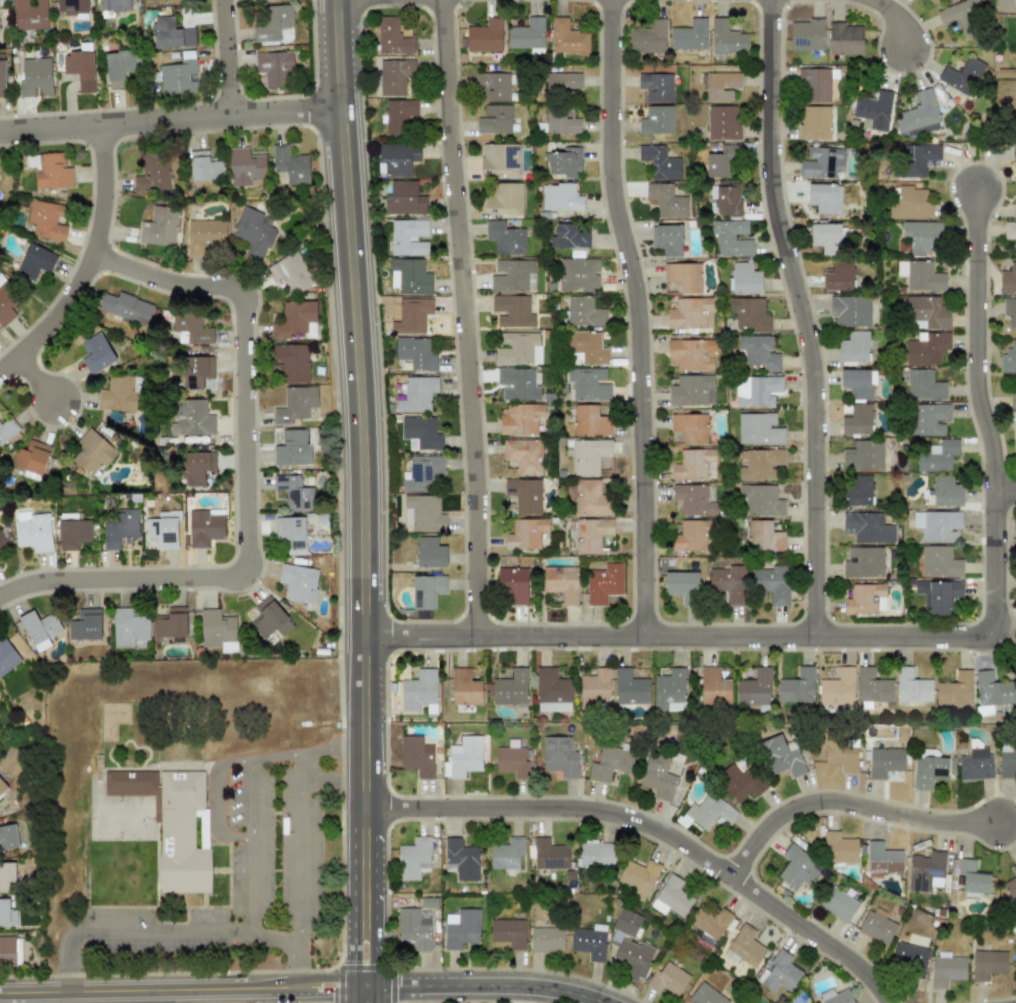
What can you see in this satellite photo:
building: (932, 1)
building: (72, 6)
building: (112, 6)
building: (961, 14)
building: (29, 15)
road: (903, 18)
building: (272, 23)
building: (170, 33)
building: (527, 34)
building: (689, 35)
building: (807, 35)
building: (484, 36)
building: (392, 37)
building: (567, 38)
building: (648, 38)
building: (727, 38)
building: (844, 39)
road: (227, 58)
building: (119, 67)
building: (274, 68)
building: (80, 69)
building: (962, 75)
building: (35, 76)
building: (394, 76)
building: (179, 77)
building: (3, 80)
building: (563, 81)
building: (816, 84)
building: (721, 85)
building: (493, 86)
building: (656, 86)
building: (874, 110)
building: (919, 115)
building: (398, 116)
building: (495, 120)
building: (656, 120)
building: (561, 121)
road: (170, 122)
building: (722, 122)
building: (815, 122)
building: (1013, 154)
building: (397, 158)
building: (500, 158)
building: (920, 159)
building: (721, 161)
building: (563, 162)
building: (659, 162)
building: (822, 162)
building: (290, 165)
building: (205, 167)
building: (245, 167)
building: (53, 172)
building: (152, 173)
building: (560, 197)
building: (403, 198)
building: (824, 198)
building: (504, 199)
building: (728, 199)
building: (666, 200)
building: (911, 203)
building: (1014, 208)
building: (47, 220)
building: (158, 230)
building: (253, 233)
building: (1010, 233)
building: (206, 234)
building: (923, 235)
building: (567, 236)
building: (409, 237)
building: (826, 237)
building: (505, 238)
building: (730, 238)
building: (667, 239)
building: (34, 262)
road: (86, 264)
building: (290, 272)
building: (578, 275)
building: (920, 275)
building: (410, 276)
building: (512, 276)
building: (683, 276)
building: (838, 276)
building: (745, 278)
building: (1008, 279)
building: (6, 303)
building: (126, 307)
building: (850, 310)
building: (512, 311)
building: (927, 311)
building: (584, 312)
building: (1010, 312)
building: (690, 313)
building: (411, 315)
building: (750, 315)
road: (464, 318)
road: (646, 318)
road: (803, 318)
building: (296, 320)
building: (191, 329)
road: (977, 340)
building: (588, 347)
building: (853, 347)
building: (518, 348)
building: (927, 348)
building: (757, 352)
building: (97, 353)
building: (416, 353)
building: (691, 354)
building: (1009, 358)
building: (292, 362)
building: (197, 370)
road: (37, 379)
building: (858, 383)
building: (519, 384)
building: (588, 384)
building: (925, 385)
building: (692, 390)
building: (757, 390)
building: (120, 394)
building: (417, 394)
building: (1013, 400)
road: (359, 404)
building: (192, 418)
building: (856, 418)
building: (930, 418)
building: (521, 419)
building: (590, 420)
building: (688, 427)
building: (7, 429)
building: (759, 429)
building: (420, 433)
building: (294, 448)
building: (93, 452)
building: (524, 455)
building: (588, 455)
building: (863, 456)
building: (937, 456)
building: (31, 459)
building: (692, 464)
building: (760, 464)
building: (196, 467)
building: (422, 473)
road: (244, 478)
building: (857, 490)
road: (1006, 490)
building: (946, 491)
building: (294, 492)
building: (590, 497)
building: (693, 500)
building: (760, 500)
building: (423, 513)
building: (937, 525)
building: (205, 527)
building: (867, 527)
building: (120, 528)
building: (163, 530)
building: (35, 532)
building: (74, 533)
building: (291, 533)
building: (525, 533)
building: (590, 534)
building: (691, 535)
building: (763, 536)
building: (2, 540)
building: (430, 552)
building: (863, 562)
building: (939, 562)
building: (298, 582)
building: (562, 583)
building: (603, 583)
building: (772, 583)
building: (513, 584)
building: (727, 584)
building: (682, 586)
building: (426, 590)
building: (937, 595)
building: (865, 599)
building: (270, 619)
building: (171, 623)
building: (86, 625)
building: (129, 627)
building: (40, 629)
building: (216, 629)
road: (752, 638)
building: (7, 657)
building: (714, 686)
building: (796, 686)
building: (873, 686)
building: (912, 686)
building: (465, 688)
building: (510, 688)
building: (754, 688)
building: (838, 688)
building: (992, 689)
building: (595, 690)
building: (669, 690)
building: (955, 690)
building: (420, 691)
building: (552, 691)
building: (630, 691)
building: (841, 754)
building: (416, 755)
road: (295, 756)
building: (559, 756)
building: (463, 757)
building: (781, 757)
building: (513, 760)
building: (611, 761)
building: (885, 761)
building: (1007, 762)
building: (975, 764)
building: (928, 771)
building: (658, 777)
road: (331, 779)
building: (131, 783)
building: (741, 783)
building: (2, 787)
road: (220, 798)
road: (856, 809)
building: (710, 812)
road: (656, 828)
building: (182, 833)
building: (8, 837)
road: (238, 837)
road: (257, 847)
building: (839, 848)
building: (507, 853)
building: (549, 854)
building: (595, 854)
building: (414, 858)
building: (883, 858)
building: (461, 859)
building: (798, 867)
building: (1014, 868)
building: (926, 871)
road: (297, 872)
building: (7, 875)
building: (637, 877)
building: (972, 878)
building: (1011, 889)
building: (671, 897)
road: (353, 903)
building: (838, 904)
road: (375, 905)
building: (4, 911)
building: (710, 921)
building: (876, 926)
building: (414, 928)
building: (462, 929)
building: (508, 932)
road: (157, 933)
building: (546, 939)
building: (589, 942)
building: (629, 945)
building: (744, 946)
building: (10, 949)
building: (909, 956)
building: (1015, 956)
building: (988, 964)
building: (946, 969)
building: (779, 973)
road: (326, 978)
building: (667, 979)
road: (480, 985)
road: (149, 989)
road: (327, 993)
building: (706, 995)
building: (836, 996)

